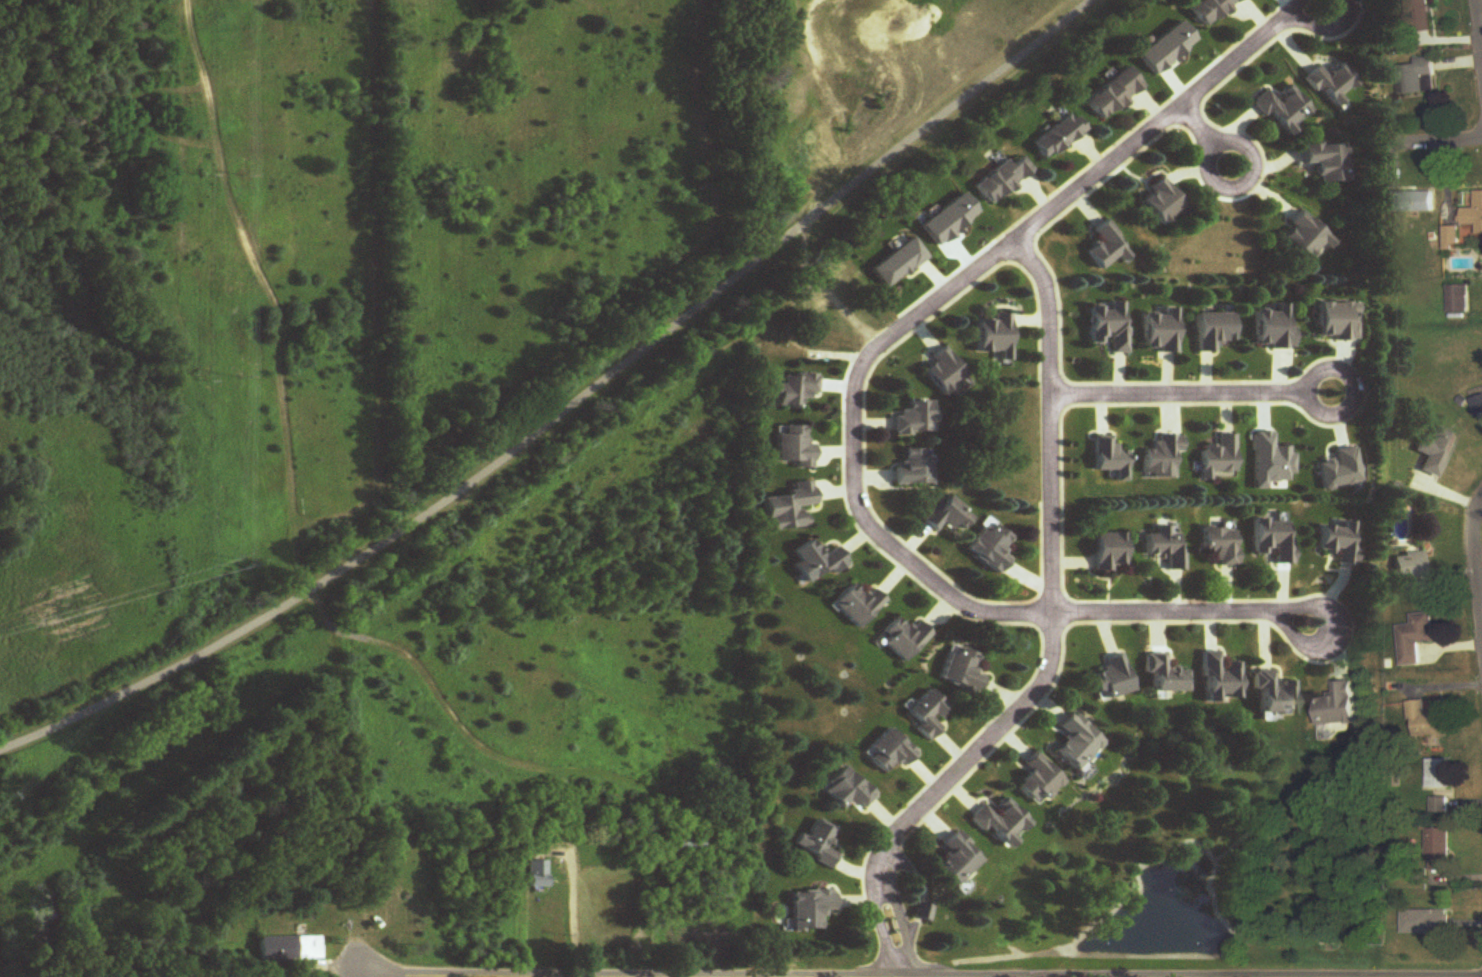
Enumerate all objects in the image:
road: (1481, 5)
road: (1292, 7)
building: (1209, 9)
building: (1417, 16)
road: (1324, 25)
building: (1417, 78)
building: (1333, 86)
building: (1114, 93)
building: (1284, 109)
road: (1204, 136)
building: (1059, 137)
road: (1431, 139)
building: (1328, 162)
building: (1003, 180)
building: (1162, 203)
building: (1411, 203)
building: (1474, 214)
building: (1306, 238)
building: (1452, 239)
building: (1108, 248)
road: (715, 286)
building: (1455, 300)
building: (1109, 326)
building: (1274, 328)
building: (1215, 331)
building: (1161, 332)
building: (997, 337)
building: (944, 374)
building: (795, 390)
road: (856, 392)
road: (1190, 392)
building: (1478, 407)
building: (916, 420)
building: (794, 447)
building: (1436, 451)
building: (1162, 457)
building: (1219, 457)
building: (1111, 458)
building: (914, 468)
building: (790, 509)
building: (948, 516)
building: (1274, 540)
building: (1341, 542)
building: (1221, 545)
building: (1165, 546)
building: (990, 548)
building: (1110, 551)
building: (817, 562)
road: (1475, 564)
building: (1412, 571)
building: (856, 605)
road: (1318, 611)
building: (1415, 638)
road: (1052, 639)
building: (904, 640)
road: (1302, 642)
road: (181, 657)
building: (962, 671)
building: (1164, 676)
building: (1220, 679)
building: (1112, 680)
building: (1275, 694)
building: (1340, 706)
building: (927, 715)
building: (1426, 721)
building: (1077, 743)
building: (890, 752)
building: (1440, 775)
building: (1038, 781)
building: (850, 791)
building: (1001, 823)
building: (688, 844)
building: (819, 844)
building: (1440, 851)
building: (958, 859)
building: (538, 874)
road: (576, 907)
building: (811, 910)
building: (1427, 923)
building: (291, 950)

